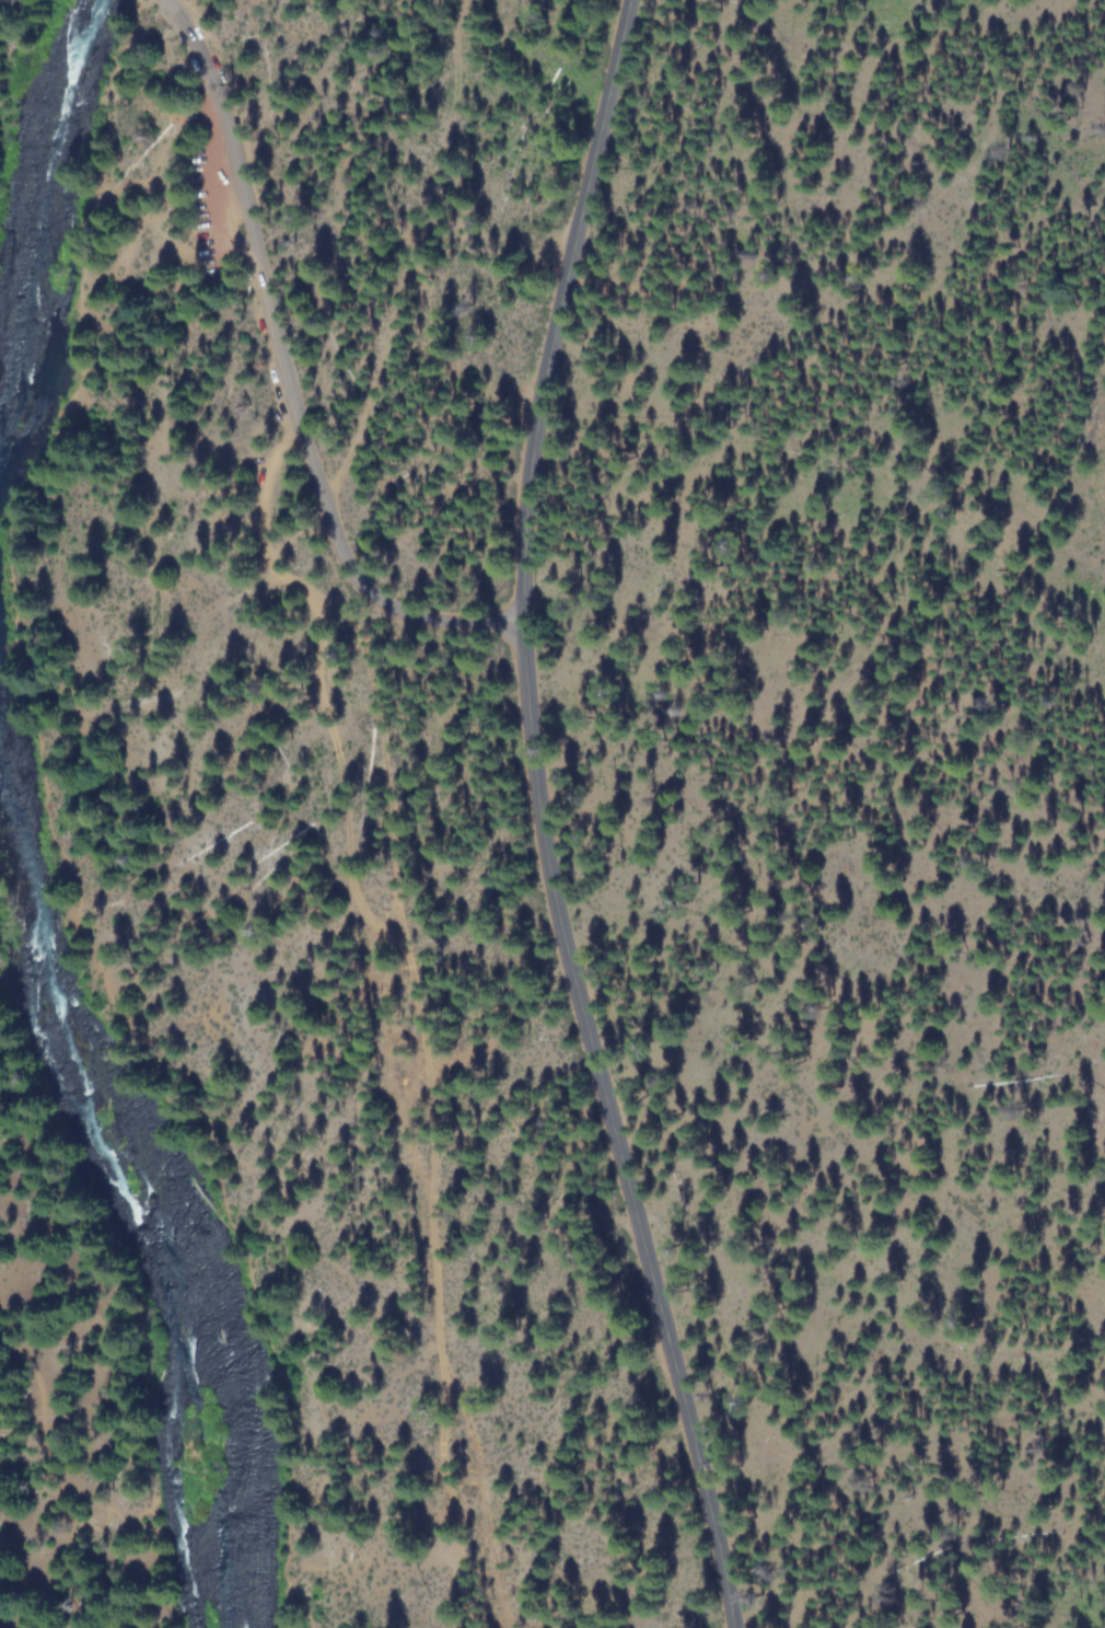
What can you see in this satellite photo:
river: (49, 219)
road: (284, 359)
road: (540, 819)
road: (70, 820)
river: (124, 1176)
road: (51, 1470)

